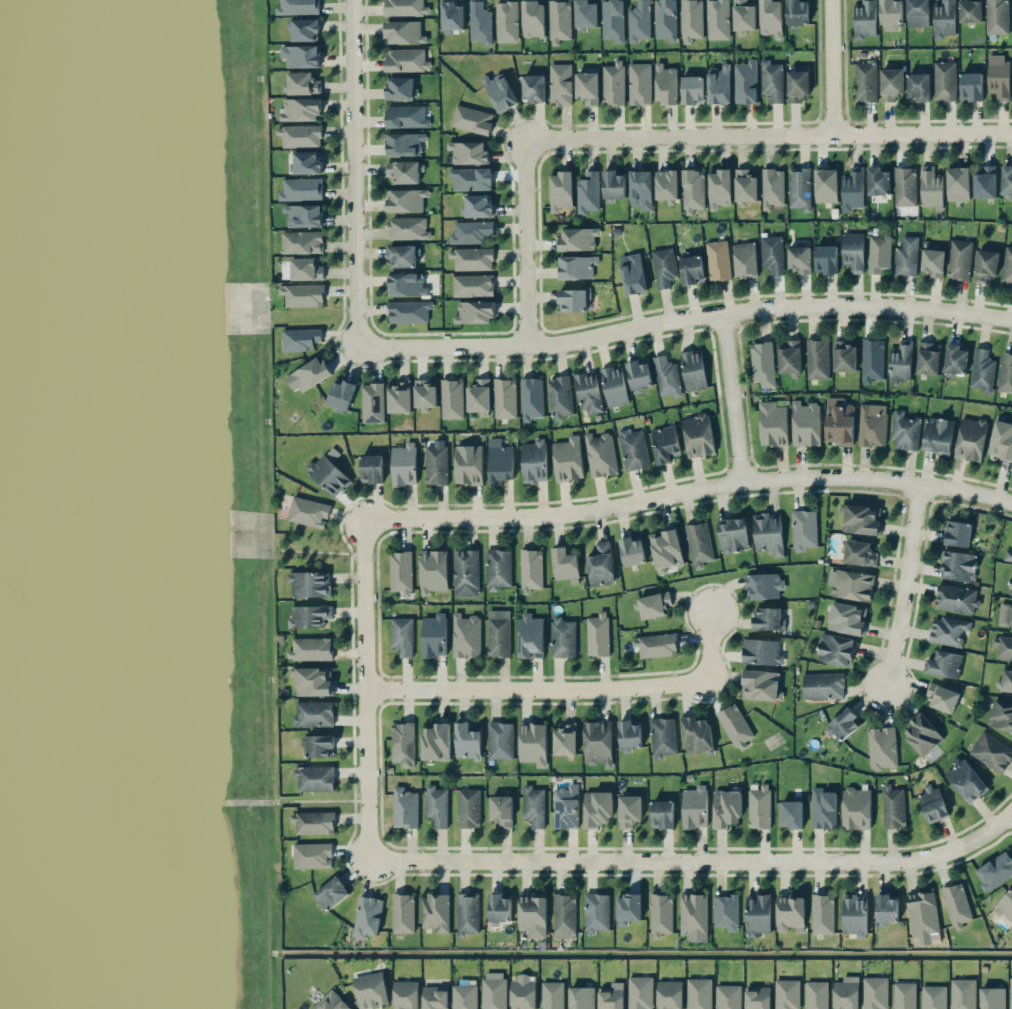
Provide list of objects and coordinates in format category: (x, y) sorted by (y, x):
building: (298, 7)
building: (406, 8)
building: (970, 10)
building: (891, 12)
building: (797, 13)
building: (917, 13)
building: (585, 15)
building: (452, 16)
building: (744, 16)
building: (997, 17)
building: (771, 18)
building: (533, 19)
building: (665, 19)
building: (717, 19)
building: (944, 19)
building: (613, 20)
building: (691, 20)
building: (865, 20)
building: (506, 21)
building: (559, 21)
building: (639, 21)
building: (480, 23)
building: (305, 29)
building: (404, 32)
building: (301, 55)
building: (406, 60)
road: (827, 68)
building: (998, 76)
building: (771, 81)
building: (865, 81)
building: (945, 81)
building: (745, 82)
building: (303, 83)
building: (613, 83)
building: (560, 84)
building: (639, 84)
building: (666, 84)
building: (891, 84)
building: (719, 85)
building: (798, 85)
building: (919, 86)
building: (971, 86)
building: (533, 87)
building: (587, 87)
building: (401, 88)
building: (692, 90)
building: (500, 92)
building: (300, 109)
building: (406, 116)
building: (472, 119)
building: (300, 136)
road: (665, 139)
building: (404, 144)
building: (468, 152)
building: (307, 162)
building: (403, 171)
road: (352, 174)
building: (471, 179)
building: (878, 181)
building: (985, 182)
building: (1006, 182)
building: (958, 184)
building: (613, 185)
building: (826, 185)
building: (667, 186)
building: (905, 186)
building: (746, 187)
building: (720, 188)
building: (772, 188)
building: (799, 188)
building: (931, 188)
building: (301, 189)
building: (640, 189)
building: (852, 189)
building: (693, 190)
building: (561, 191)
building: (588, 192)
building: (406, 200)
building: (478, 206)
building: (304, 215)
building: (408, 228)
building: (470, 232)
building: (578, 238)
building: (302, 242)
building: (853, 252)
building: (879, 253)
building: (772, 254)
building: (402, 256)
building: (906, 256)
building: (472, 259)
building: (745, 259)
building: (800, 259)
building: (826, 259)
building: (959, 259)
building: (718, 260)
building: (933, 262)
building: (986, 265)
building: (576, 267)
building: (664, 267)
building: (1007, 267)
building: (306, 269)
building: (692, 269)
building: (633, 273)
building: (406, 285)
building: (473, 285)
building: (302, 295)
building: (573, 300)
building: (409, 312)
building: (475, 312)
road: (683, 319)
building: (300, 339)
building: (844, 356)
building: (789, 358)
building: (817, 359)
building: (928, 359)
building: (872, 360)
building: (955, 360)
building: (900, 362)
building: (762, 364)
building: (693, 370)
building: (982, 370)
building: (1005, 373)
building: (307, 375)
building: (639, 375)
building: (667, 376)
building: (614, 386)
building: (588, 393)
building: (341, 394)
building: (425, 395)
building: (478, 396)
building: (399, 397)
building: (559, 397)
road: (730, 397)
building: (505, 398)
building: (531, 398)
building: (451, 399)
building: (372, 402)
building: (839, 421)
building: (806, 423)
building: (773, 424)
building: (872, 424)
building: (905, 431)
building: (698, 435)
building: (938, 435)
building: (971, 438)
building: (1001, 438)
building: (665, 443)
building: (633, 449)
building: (600, 454)
building: (568, 459)
building: (499, 461)
building: (534, 461)
building: (436, 463)
building: (404, 464)
building: (468, 464)
building: (372, 467)
building: (329, 472)
road: (686, 490)
building: (308, 512)
building: (862, 519)
building: (804, 529)
building: (768, 533)
building: (959, 533)
building: (733, 534)
building: (699, 544)
building: (632, 550)
building: (666, 550)
building: (860, 553)
building: (1008, 555)
building: (565, 565)
building: (601, 565)
building: (959, 565)
building: (498, 569)
building: (531, 570)
building: (433, 571)
building: (401, 572)
building: (466, 572)
building: (310, 583)
building: (1011, 584)
building: (765, 585)
building: (850, 585)
road: (902, 588)
building: (956, 598)
building: (654, 604)
building: (1005, 614)
building: (310, 616)
building: (847, 618)
building: (767, 619)
building: (948, 631)
building: (499, 633)
building: (598, 634)
building: (402, 635)
building: (434, 635)
building: (466, 635)
building: (530, 636)
building: (563, 637)
building: (655, 645)
building: (1003, 646)
building: (311, 649)
building: (836, 649)
building: (762, 651)
building: (944, 664)
building: (1006, 680)
building: (313, 681)
building: (761, 685)
building: (823, 686)
road: (566, 688)
road: (362, 689)
building: (943, 698)
building: (313, 714)
building: (1001, 715)
building: (845, 723)
building: (735, 725)
building: (630, 735)
building: (696, 735)
building: (922, 735)
building: (663, 737)
building: (565, 739)
building: (500, 740)
building: (467, 741)
building: (435, 742)
building: (533, 743)
building: (598, 743)
building: (403, 744)
building: (320, 746)
building: (882, 747)
building: (992, 751)
building: (315, 778)
building: (965, 780)
building: (933, 803)
building: (437, 805)
building: (533, 806)
building: (759, 806)
building: (893, 806)
building: (468, 807)
building: (566, 807)
building: (695, 807)
building: (405, 808)
building: (726, 808)
building: (856, 808)
road: (1011, 808)
building: (597, 809)
building: (823, 809)
road: (1011, 809)
building: (629, 810)
building: (501, 811)
building: (662, 814)
building: (792, 814)
building: (313, 822)
building: (312, 855)
road: (694, 860)
building: (995, 871)
building: (331, 893)
building: (956, 905)
building: (1005, 906)
building: (499, 907)
building: (628, 908)
building: (887, 908)
building: (436, 912)
building: (726, 912)
building: (789, 912)
building: (403, 913)
building: (467, 913)
building: (596, 913)
building: (533, 914)
building: (661, 914)
building: (758, 914)
building: (822, 914)
building: (855, 914)
building: (923, 914)
building: (367, 916)
building: (564, 916)
building: (694, 917)
building: (370, 990)
building: (493, 990)
building: (639, 992)
building: (699, 993)
building: (846, 993)
building: (875, 993)
building: (1010, 993)
building: (405, 994)
building: (523, 994)
building: (670, 994)
building: (787, 994)
building: (963, 994)
building: (552, 995)
building: (817, 995)
building: (904, 995)
building: (464, 996)
building: (611, 996)
building: (728, 996)
building: (435, 997)
building: (581, 997)
building: (758, 997)
building: (934, 997)
building: (993, 998)
building: (331, 1002)

